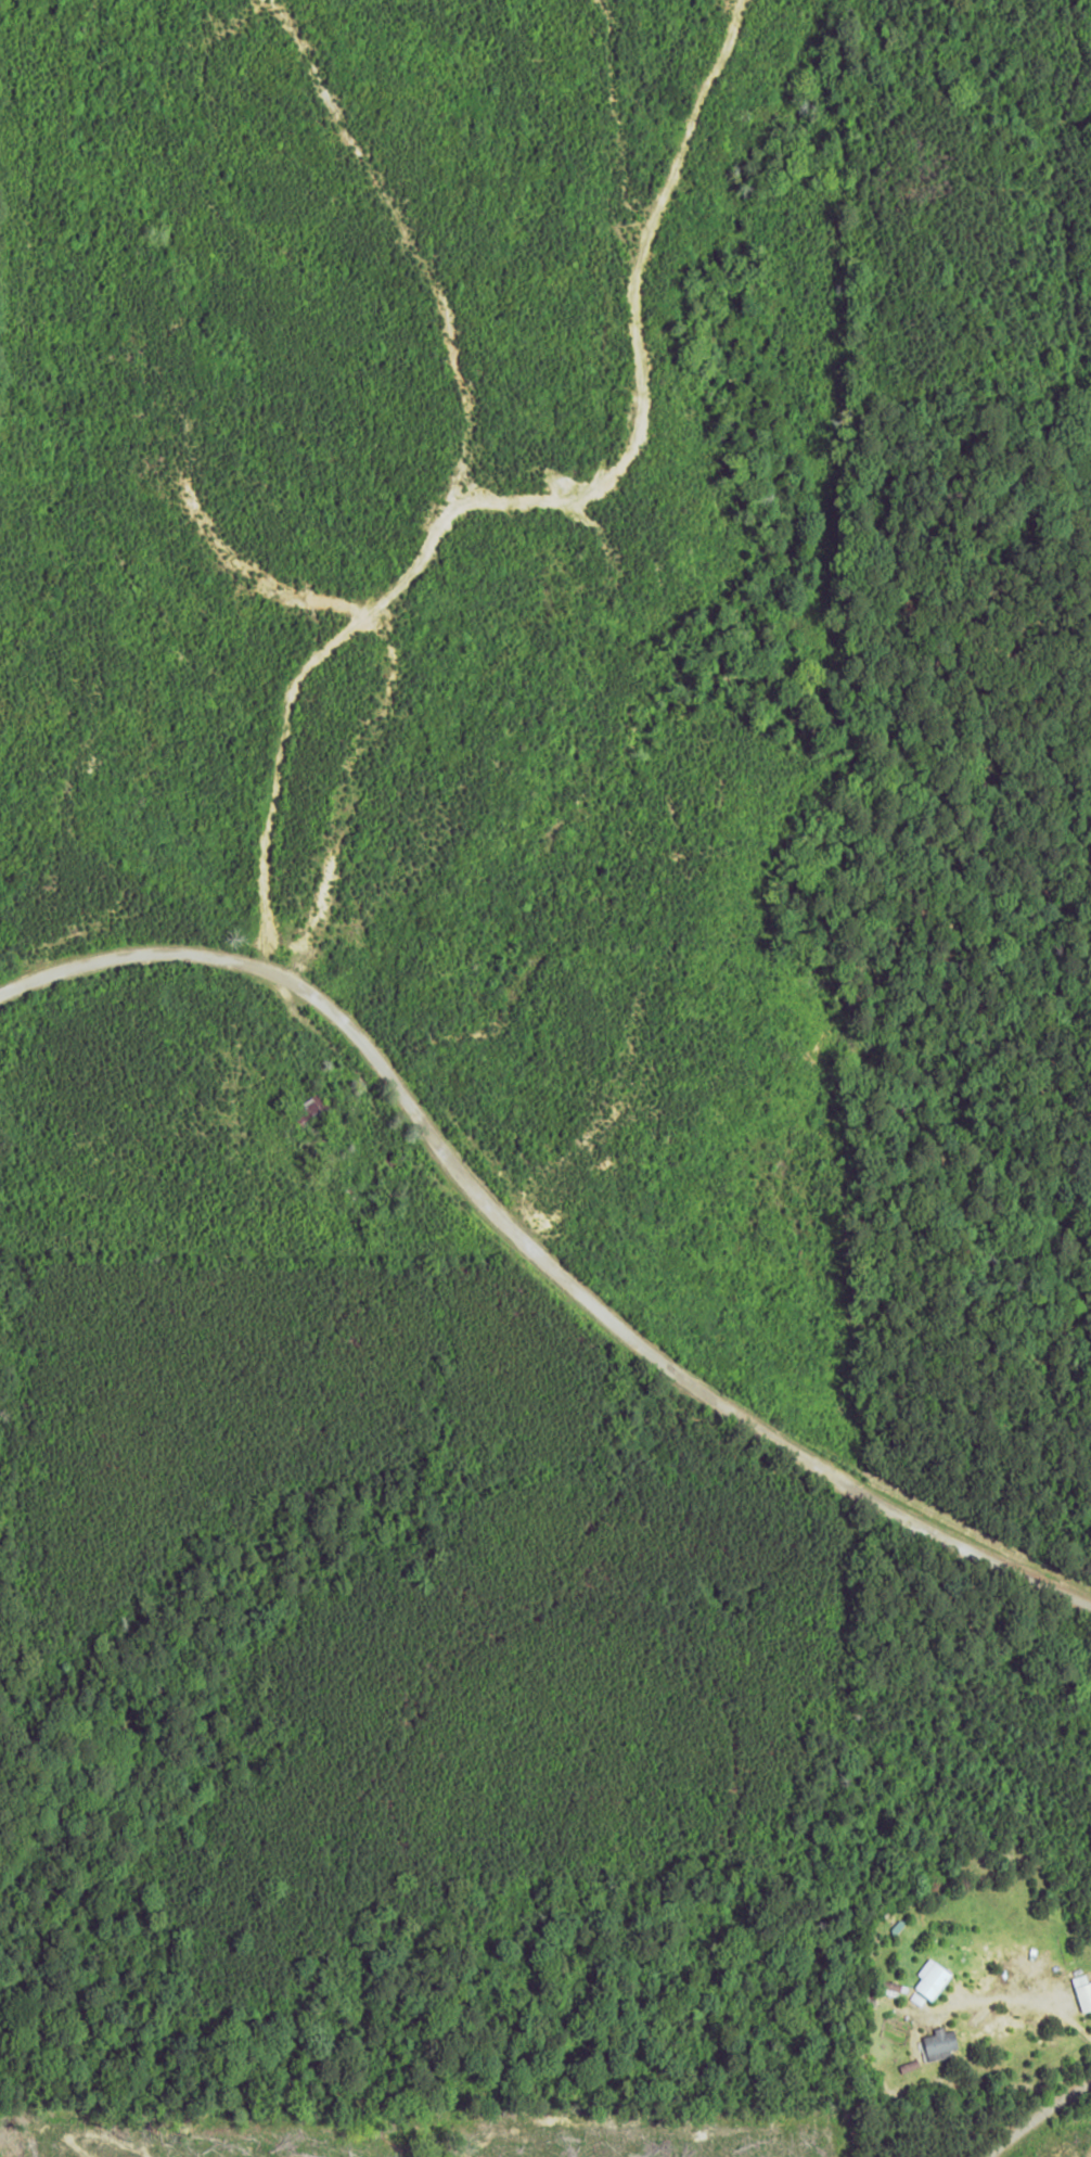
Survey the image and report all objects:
road: (530, 1275)
building: (933, 1978)
building: (1083, 1991)
building: (941, 2044)
building: (909, 2065)
road: (1034, 2114)

